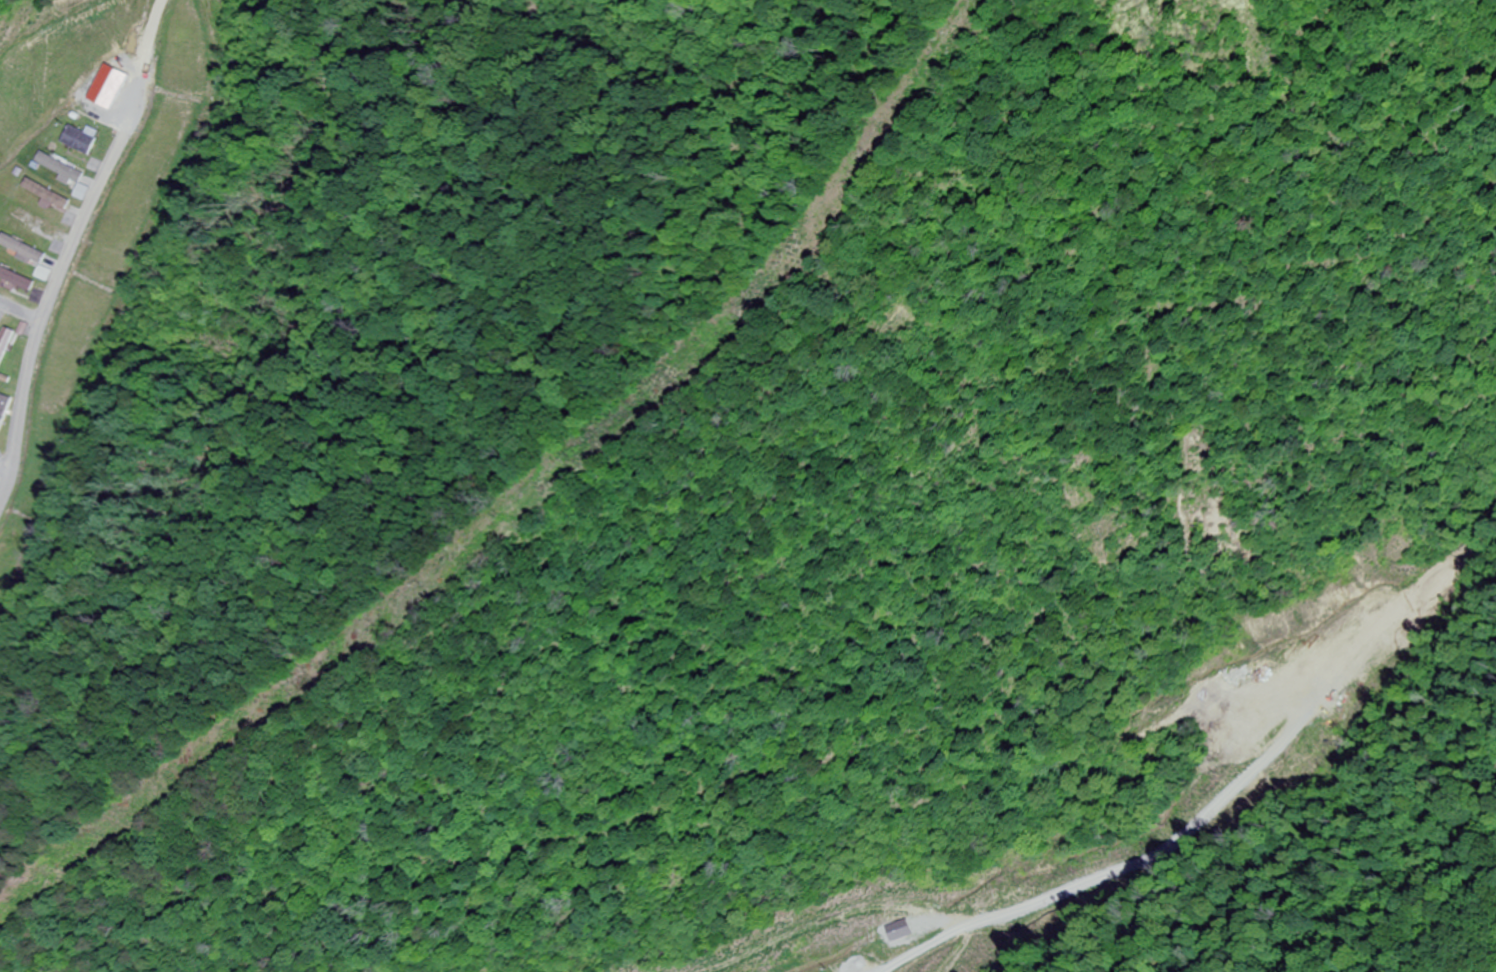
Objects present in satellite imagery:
building: (106, 86)
building: (77, 140)
building: (59, 167)
building: (48, 195)
building: (31, 219)
building: (23, 250)
road: (66, 262)
building: (17, 279)
building: (8, 350)
building: (7, 416)

